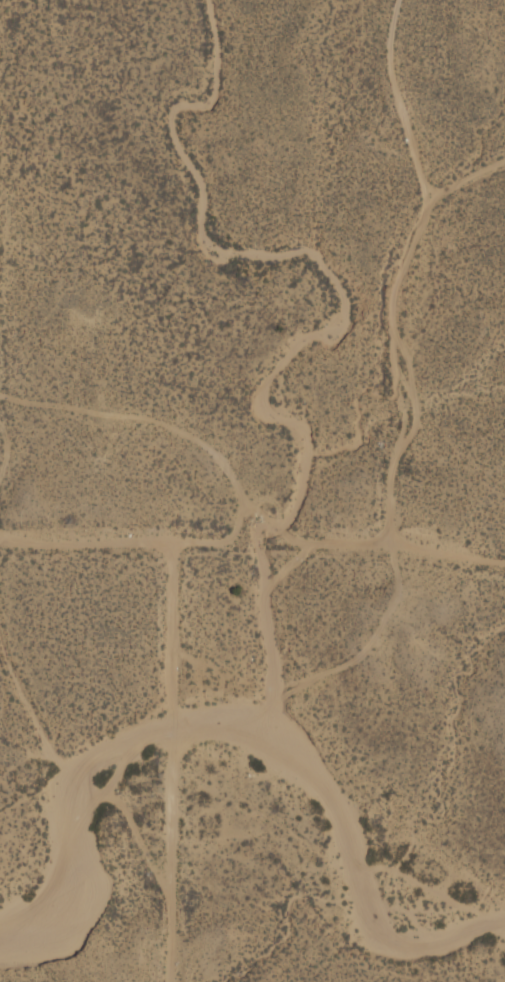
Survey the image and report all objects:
road: (401, 548)

